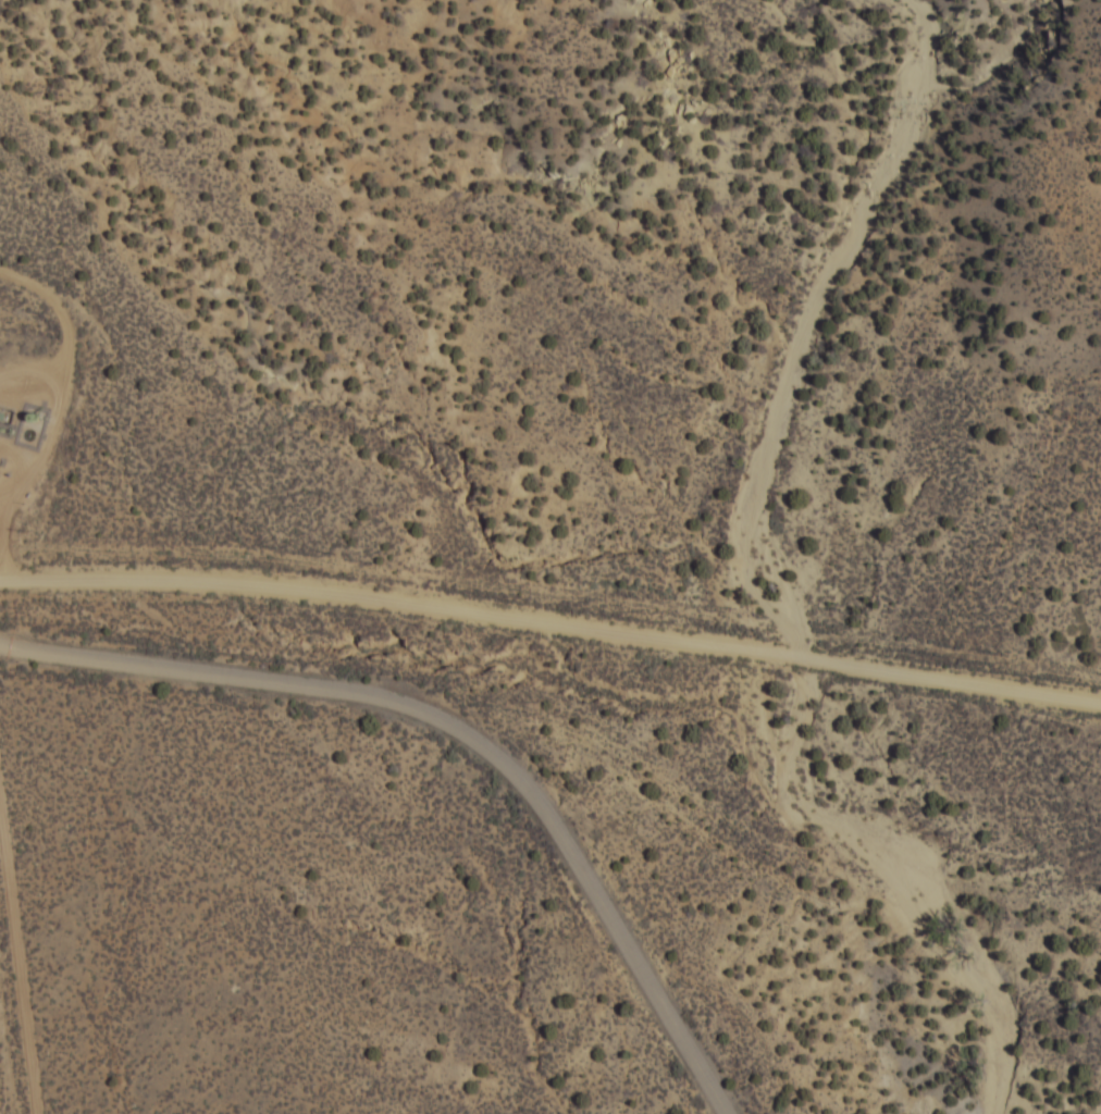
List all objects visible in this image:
road: (34, 382)
road: (66, 410)
road: (8, 502)
road: (552, 622)
road: (462, 727)

